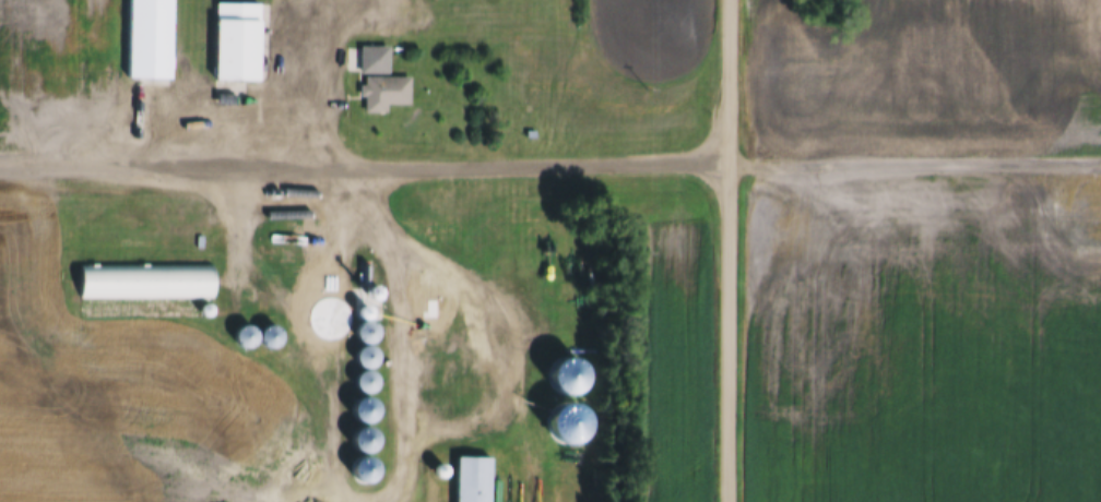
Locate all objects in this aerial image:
building: (451, 27)
building: (146, 38)
building: (234, 41)
building: (371, 59)
road: (296, 83)
building: (381, 92)
road: (912, 160)
road: (394, 166)
road: (33, 168)
road: (722, 250)
building: (143, 283)
building: (338, 311)
building: (360, 328)
building: (363, 367)
building: (362, 409)
building: (362, 440)
road: (450, 449)
building: (359, 468)
building: (470, 478)

